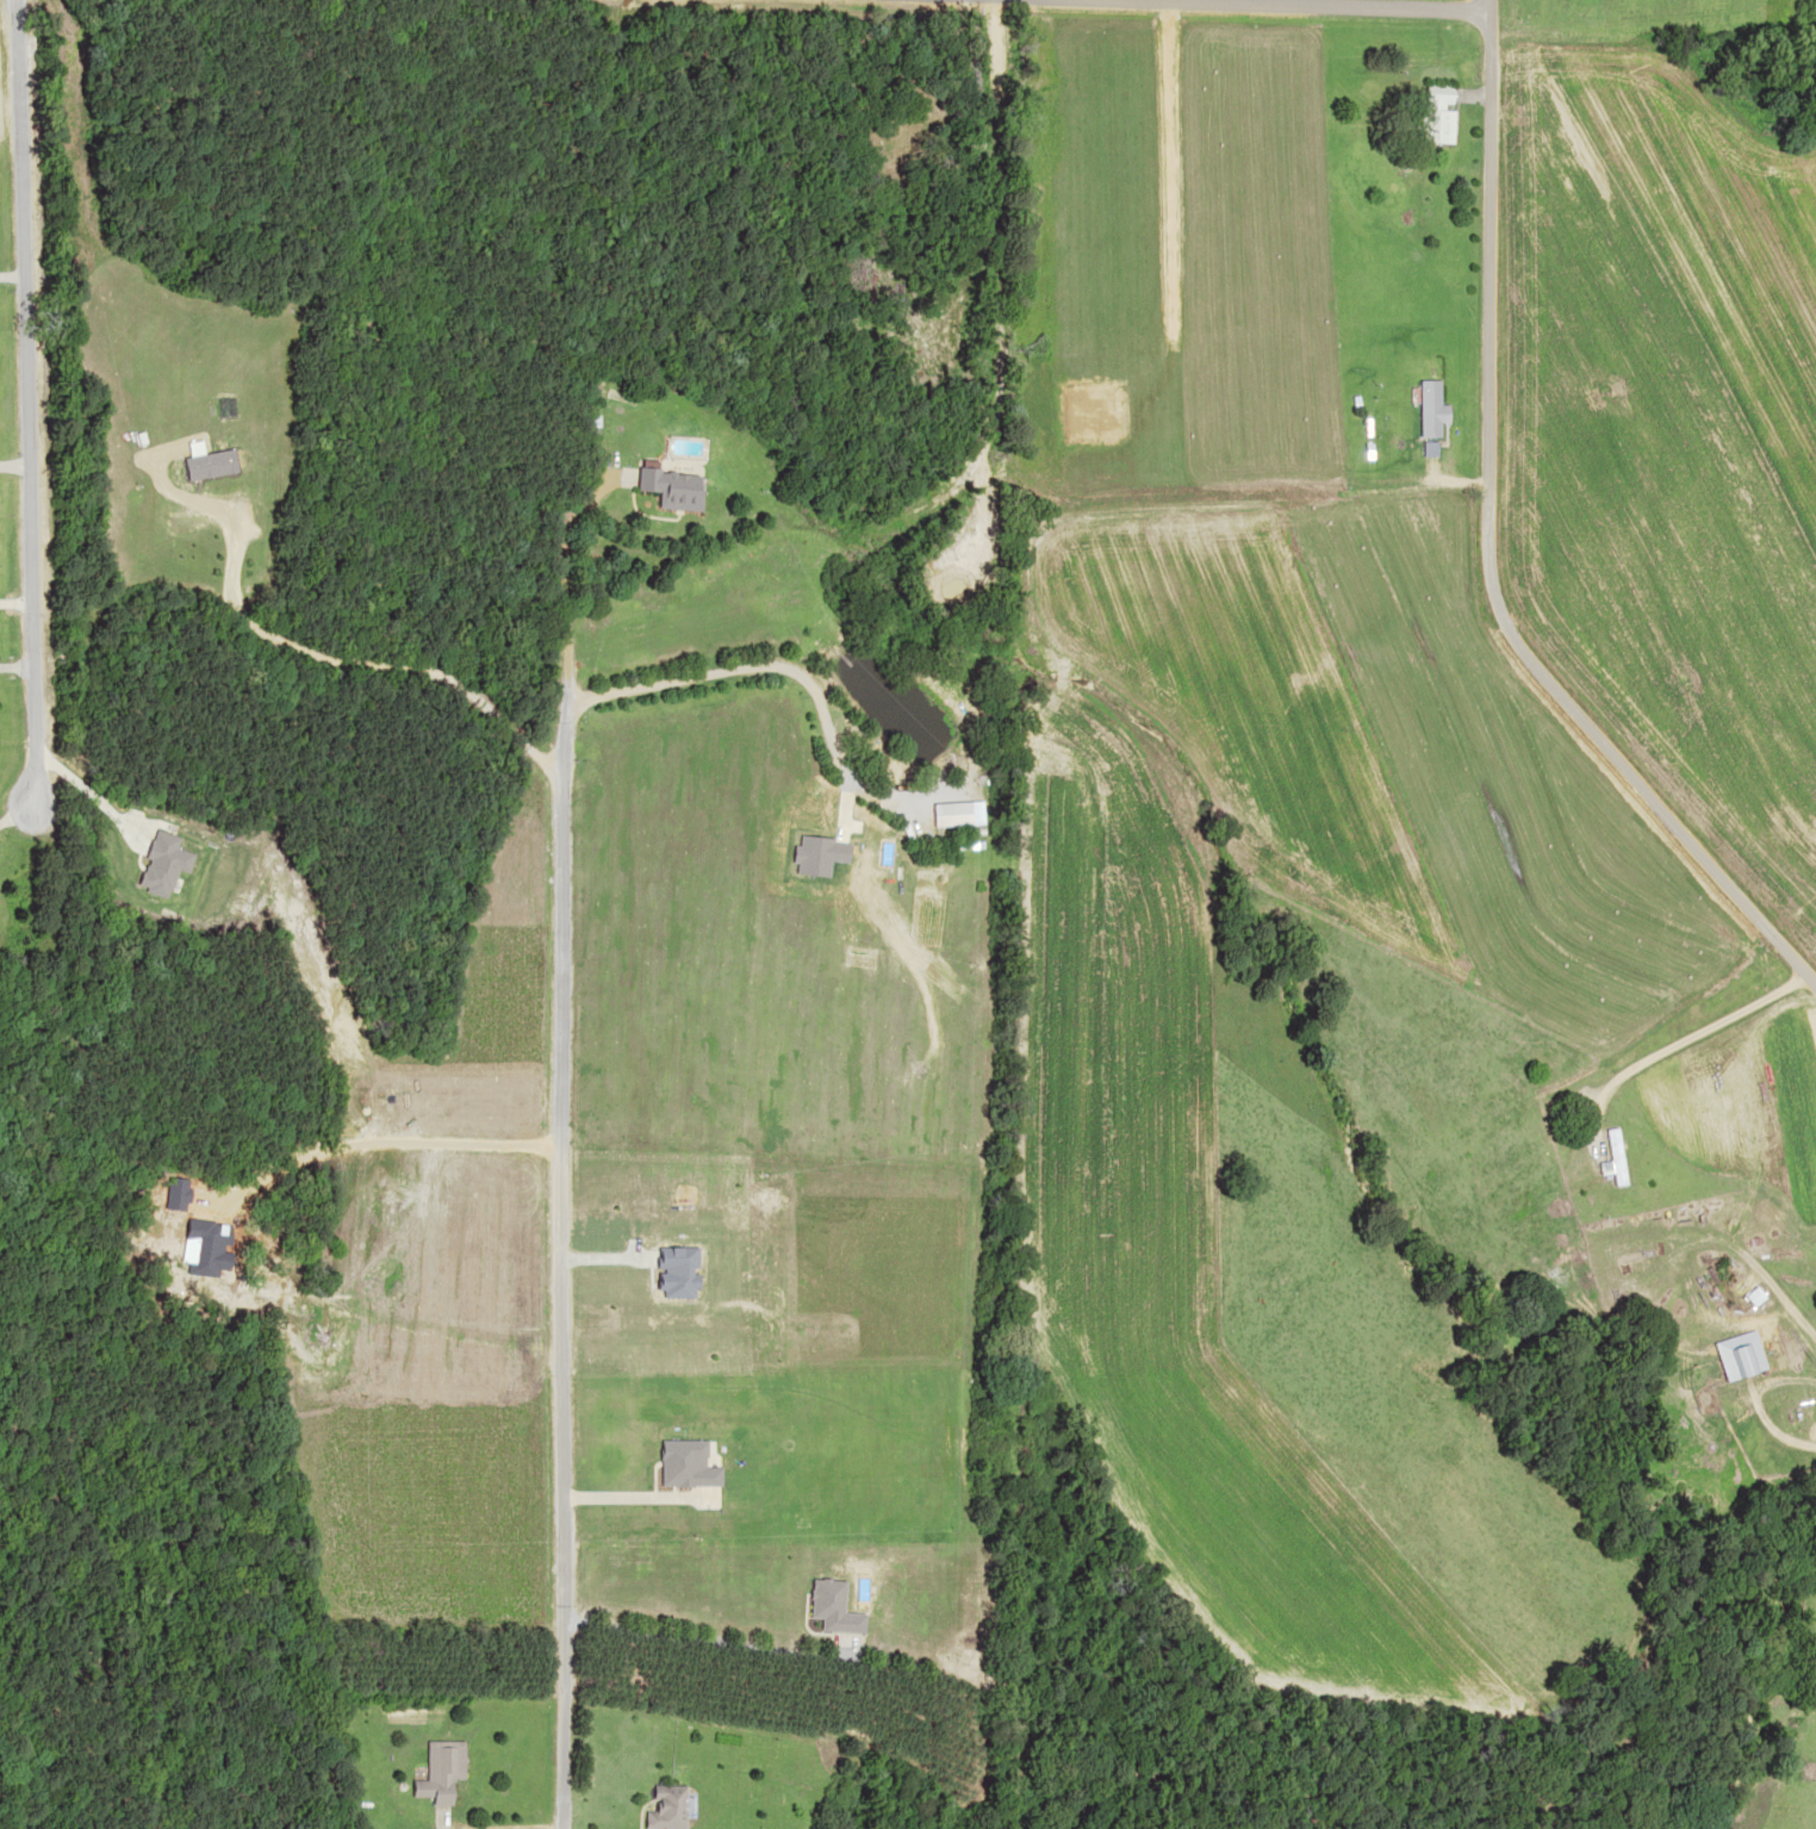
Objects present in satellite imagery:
building: (1629, 5)
building: (1435, 117)
building: (1420, 406)
building: (667, 487)
road: (1506, 530)
building: (941, 814)
building: (1606, 1156)
building: (436, 1769)
building: (664, 1806)

